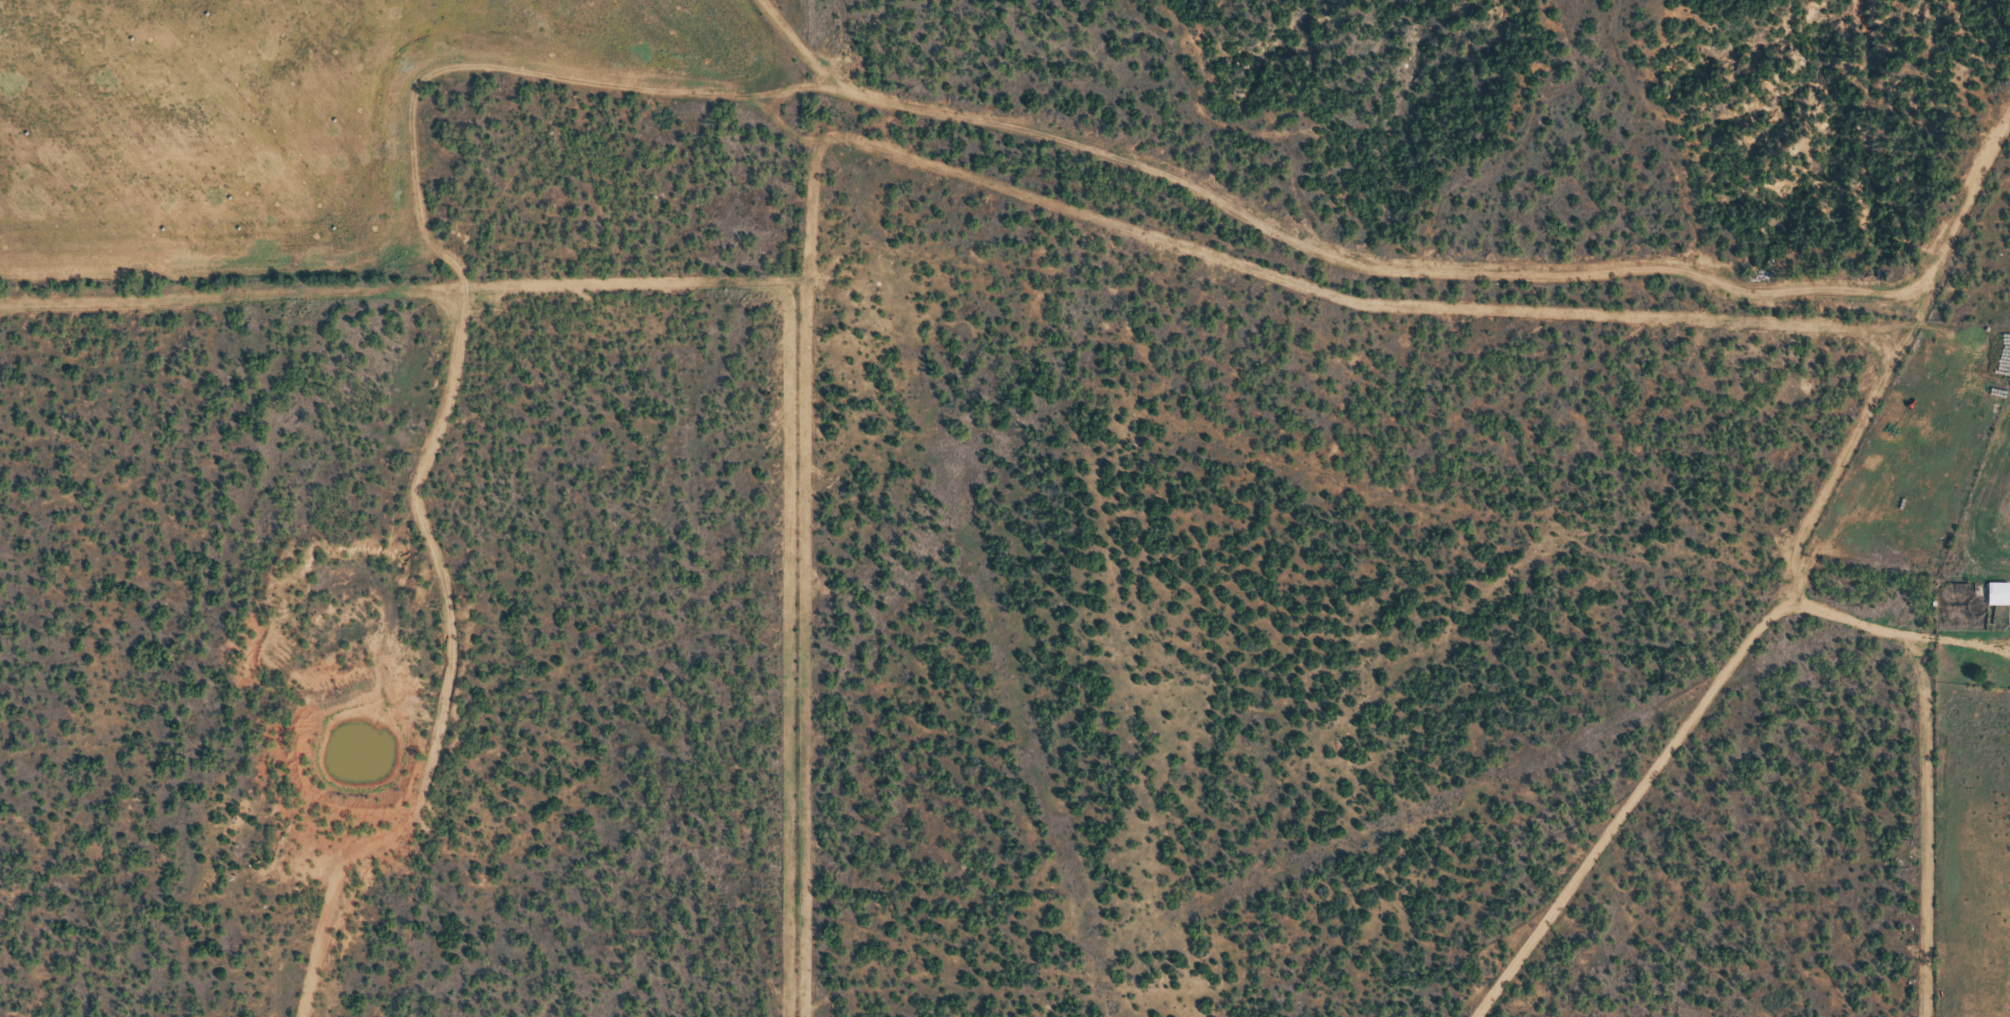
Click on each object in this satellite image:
building: (2001, 591)
road: (1694, 716)

